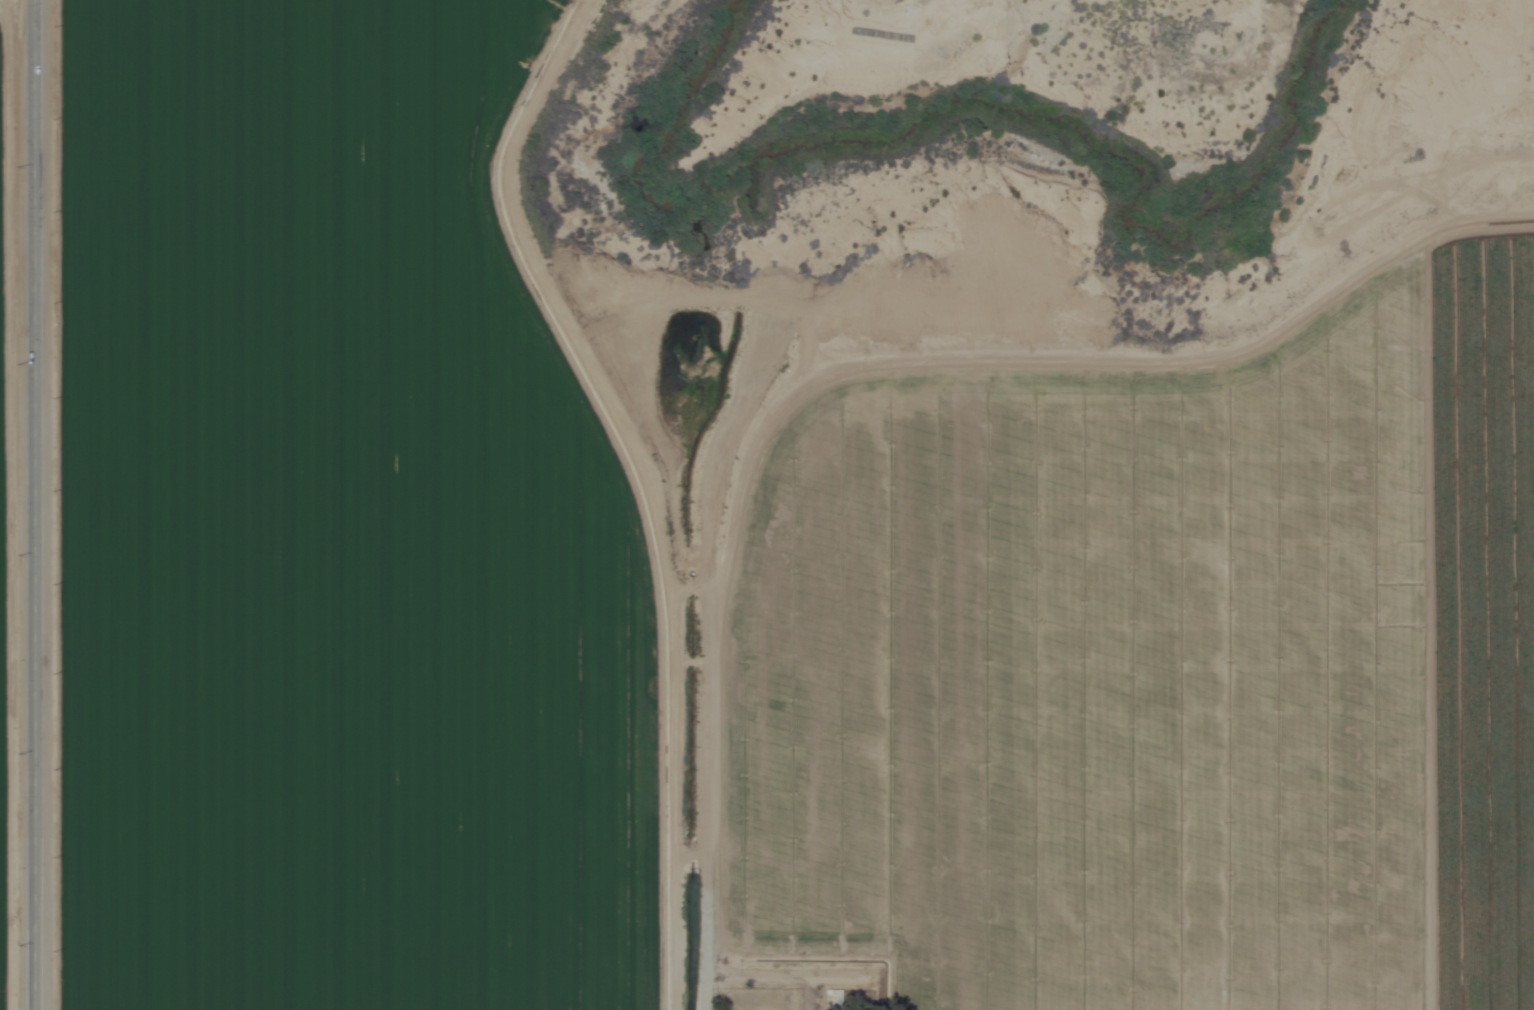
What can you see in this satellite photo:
river: (977, 109)
road: (32, 505)
crop: (336, 535)
crop: (1, 596)
building: (827, 1000)

